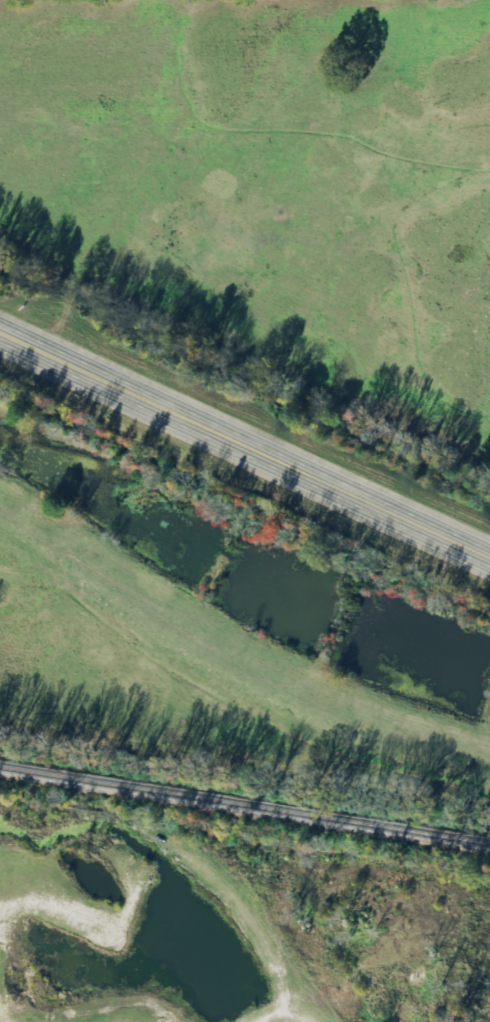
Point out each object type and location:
road: (245, 446)
railway: (245, 804)

